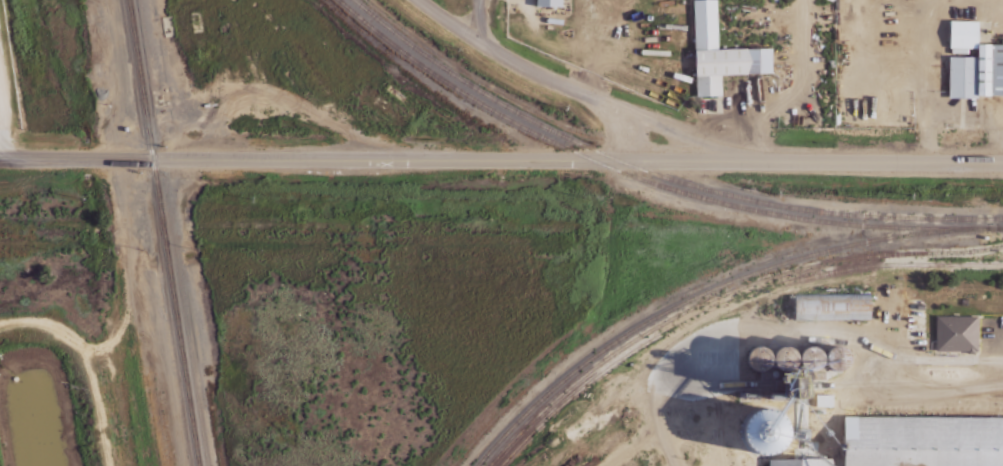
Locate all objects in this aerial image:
building: (549, 3)
road: (477, 19)
building: (721, 53)
building: (974, 63)
road: (589, 93)
railway: (565, 148)
road: (501, 160)
railway: (655, 173)
railway: (897, 225)
railway: (984, 225)
railway: (161, 232)
railway: (696, 295)
railway: (719, 295)
railway: (726, 301)
building: (833, 305)
building: (953, 320)
building: (825, 399)
railway: (753, 407)
building: (774, 419)
building: (801, 462)

